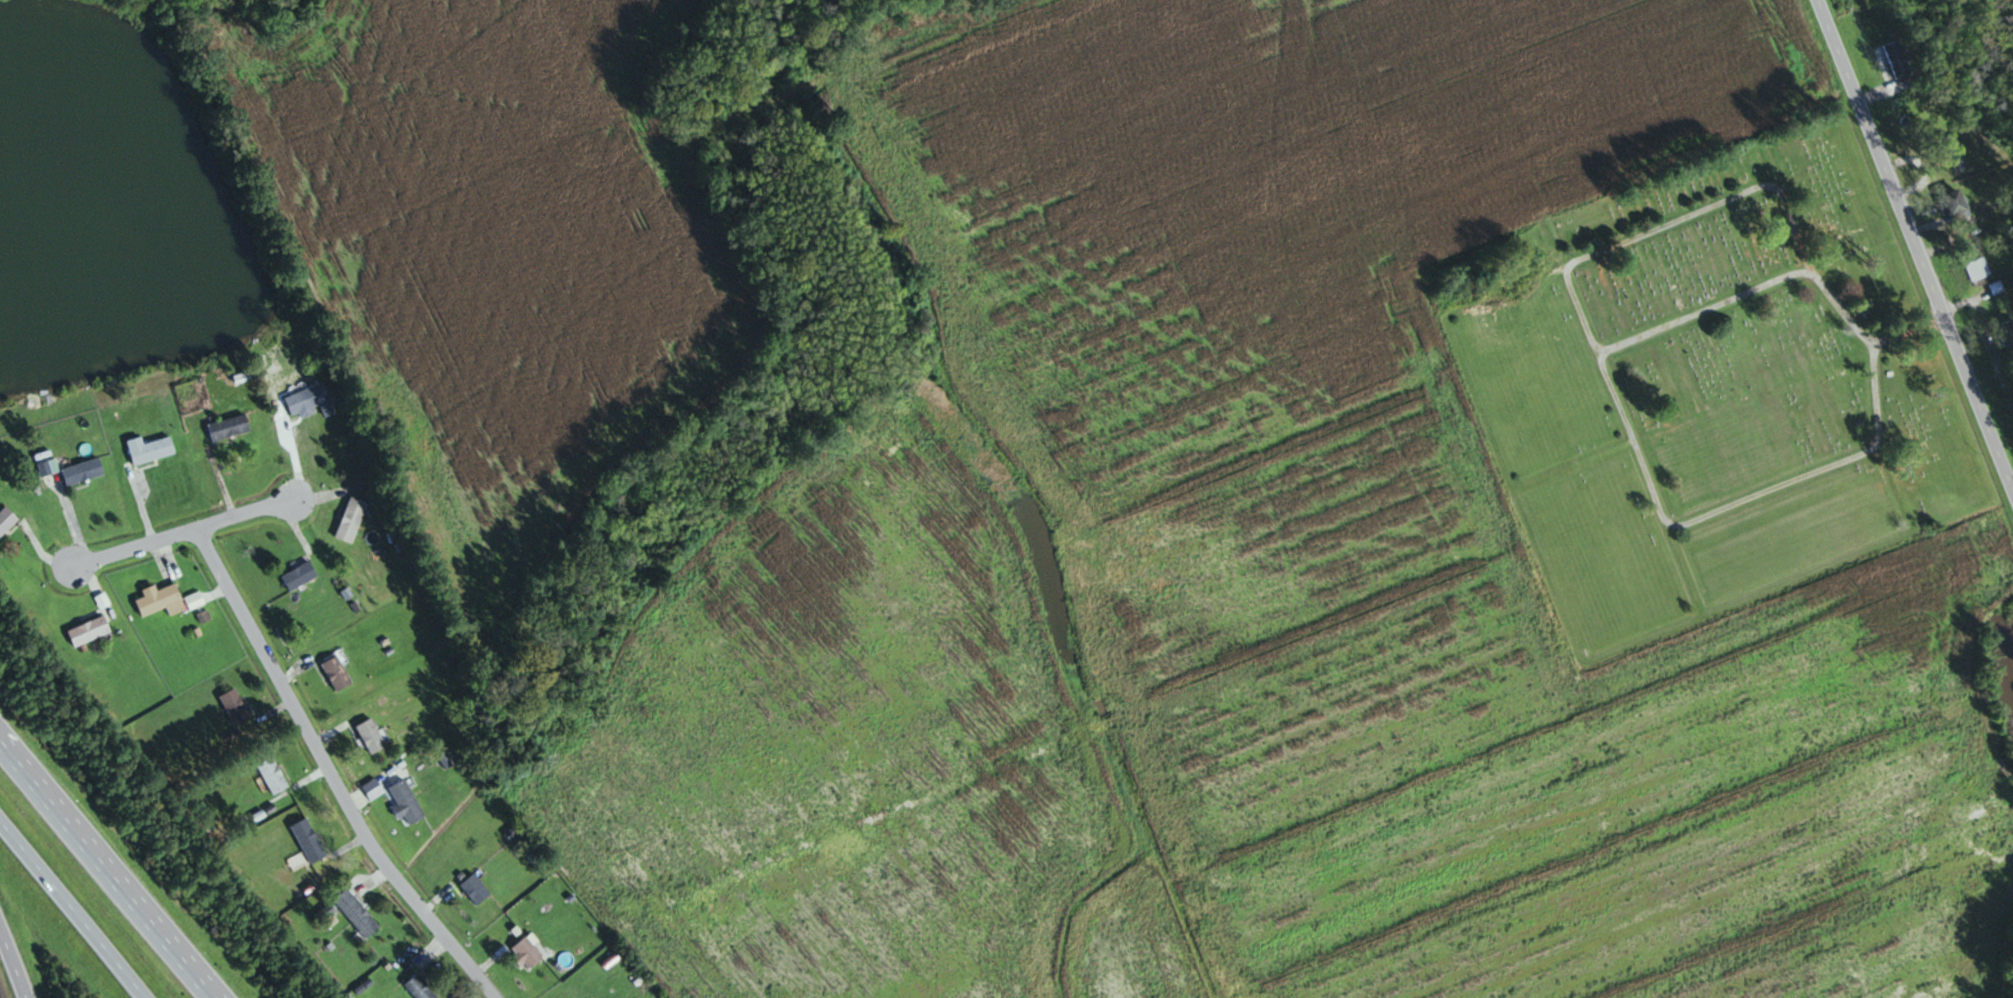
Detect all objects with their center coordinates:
building: (1895, 61)
building: (1956, 162)
building: (1953, 204)
road: (1914, 248)
building: (1978, 270)
road: (1701, 319)
road: (1576, 334)
building: (2005, 334)
park: (1710, 388)
building: (310, 401)
building: (228, 427)
building: (150, 448)
building: (48, 468)
building: (83, 472)
building: (6, 520)
building: (351, 520)
road: (182, 532)
building: (298, 576)
building: (160, 601)
building: (89, 632)
building: (336, 674)
building: (235, 707)
building: (370, 736)
road: (328, 773)
building: (272, 776)
building: (405, 802)
building: (308, 841)
road: (107, 870)
building: (475, 889)
road: (72, 909)
building: (355, 912)
building: (527, 953)
road: (12, 966)
building: (419, 987)

